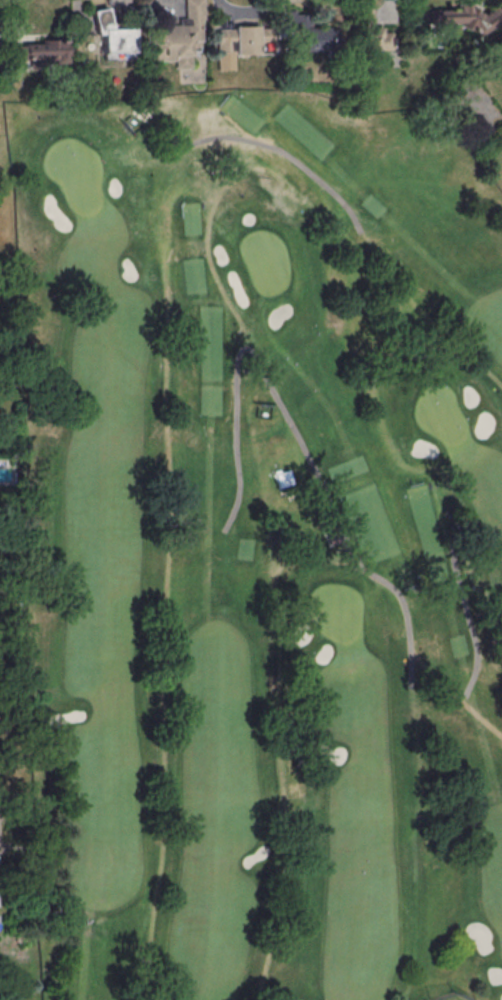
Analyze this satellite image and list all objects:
building: (467, 20)
building: (116, 33)
building: (349, 36)
building: (180, 39)
building: (241, 41)
building: (47, 51)
park: (75, 174)
park: (265, 262)
park: (440, 415)
park: (259, 548)
park: (338, 611)

